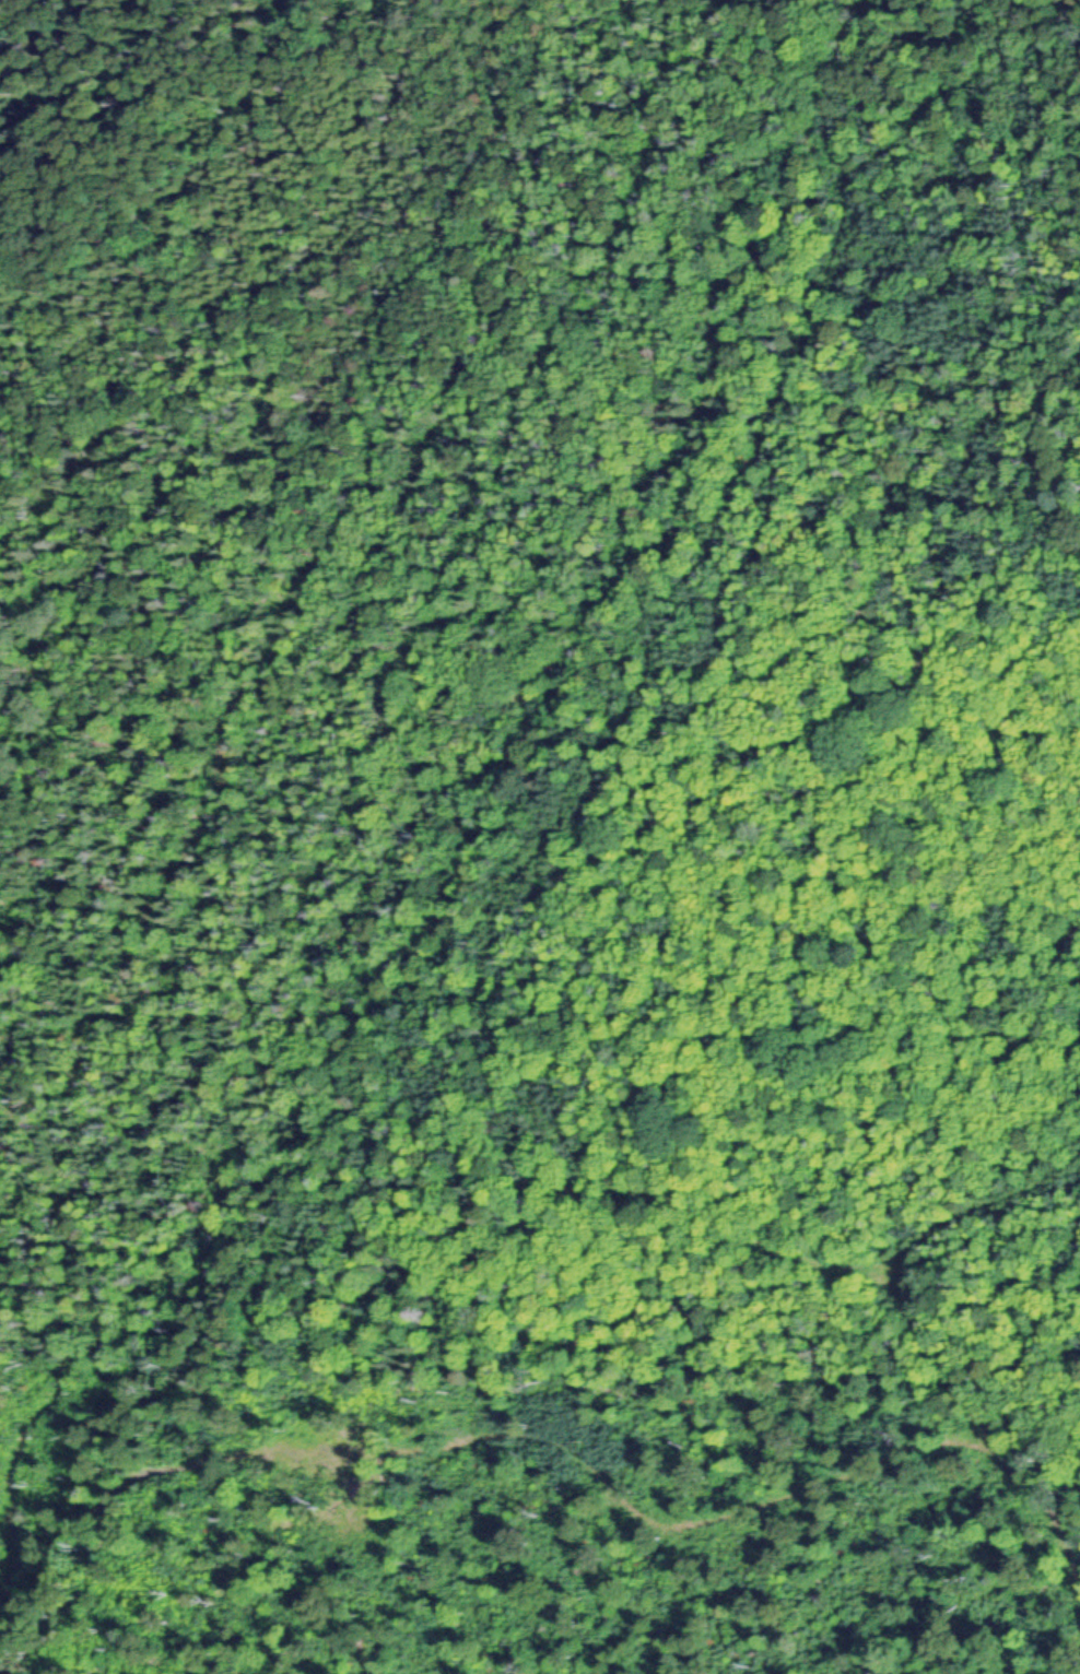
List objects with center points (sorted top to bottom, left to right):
park: (5, 826)
road: (912, 1347)
road: (484, 1439)

